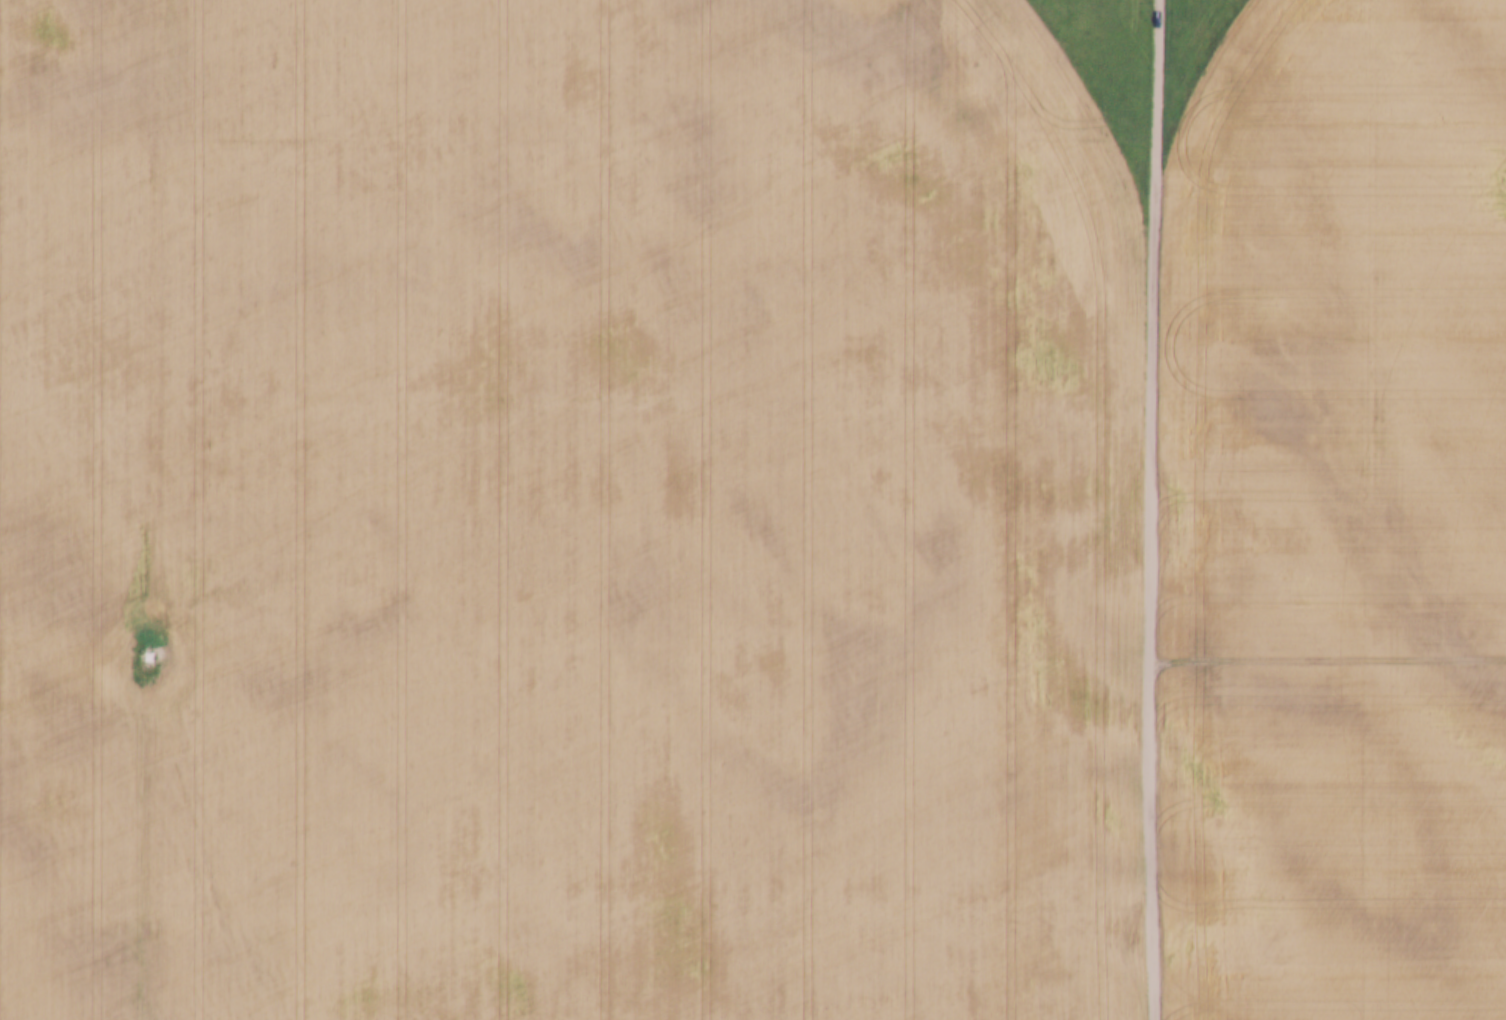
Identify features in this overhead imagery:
road: (1150, 510)

